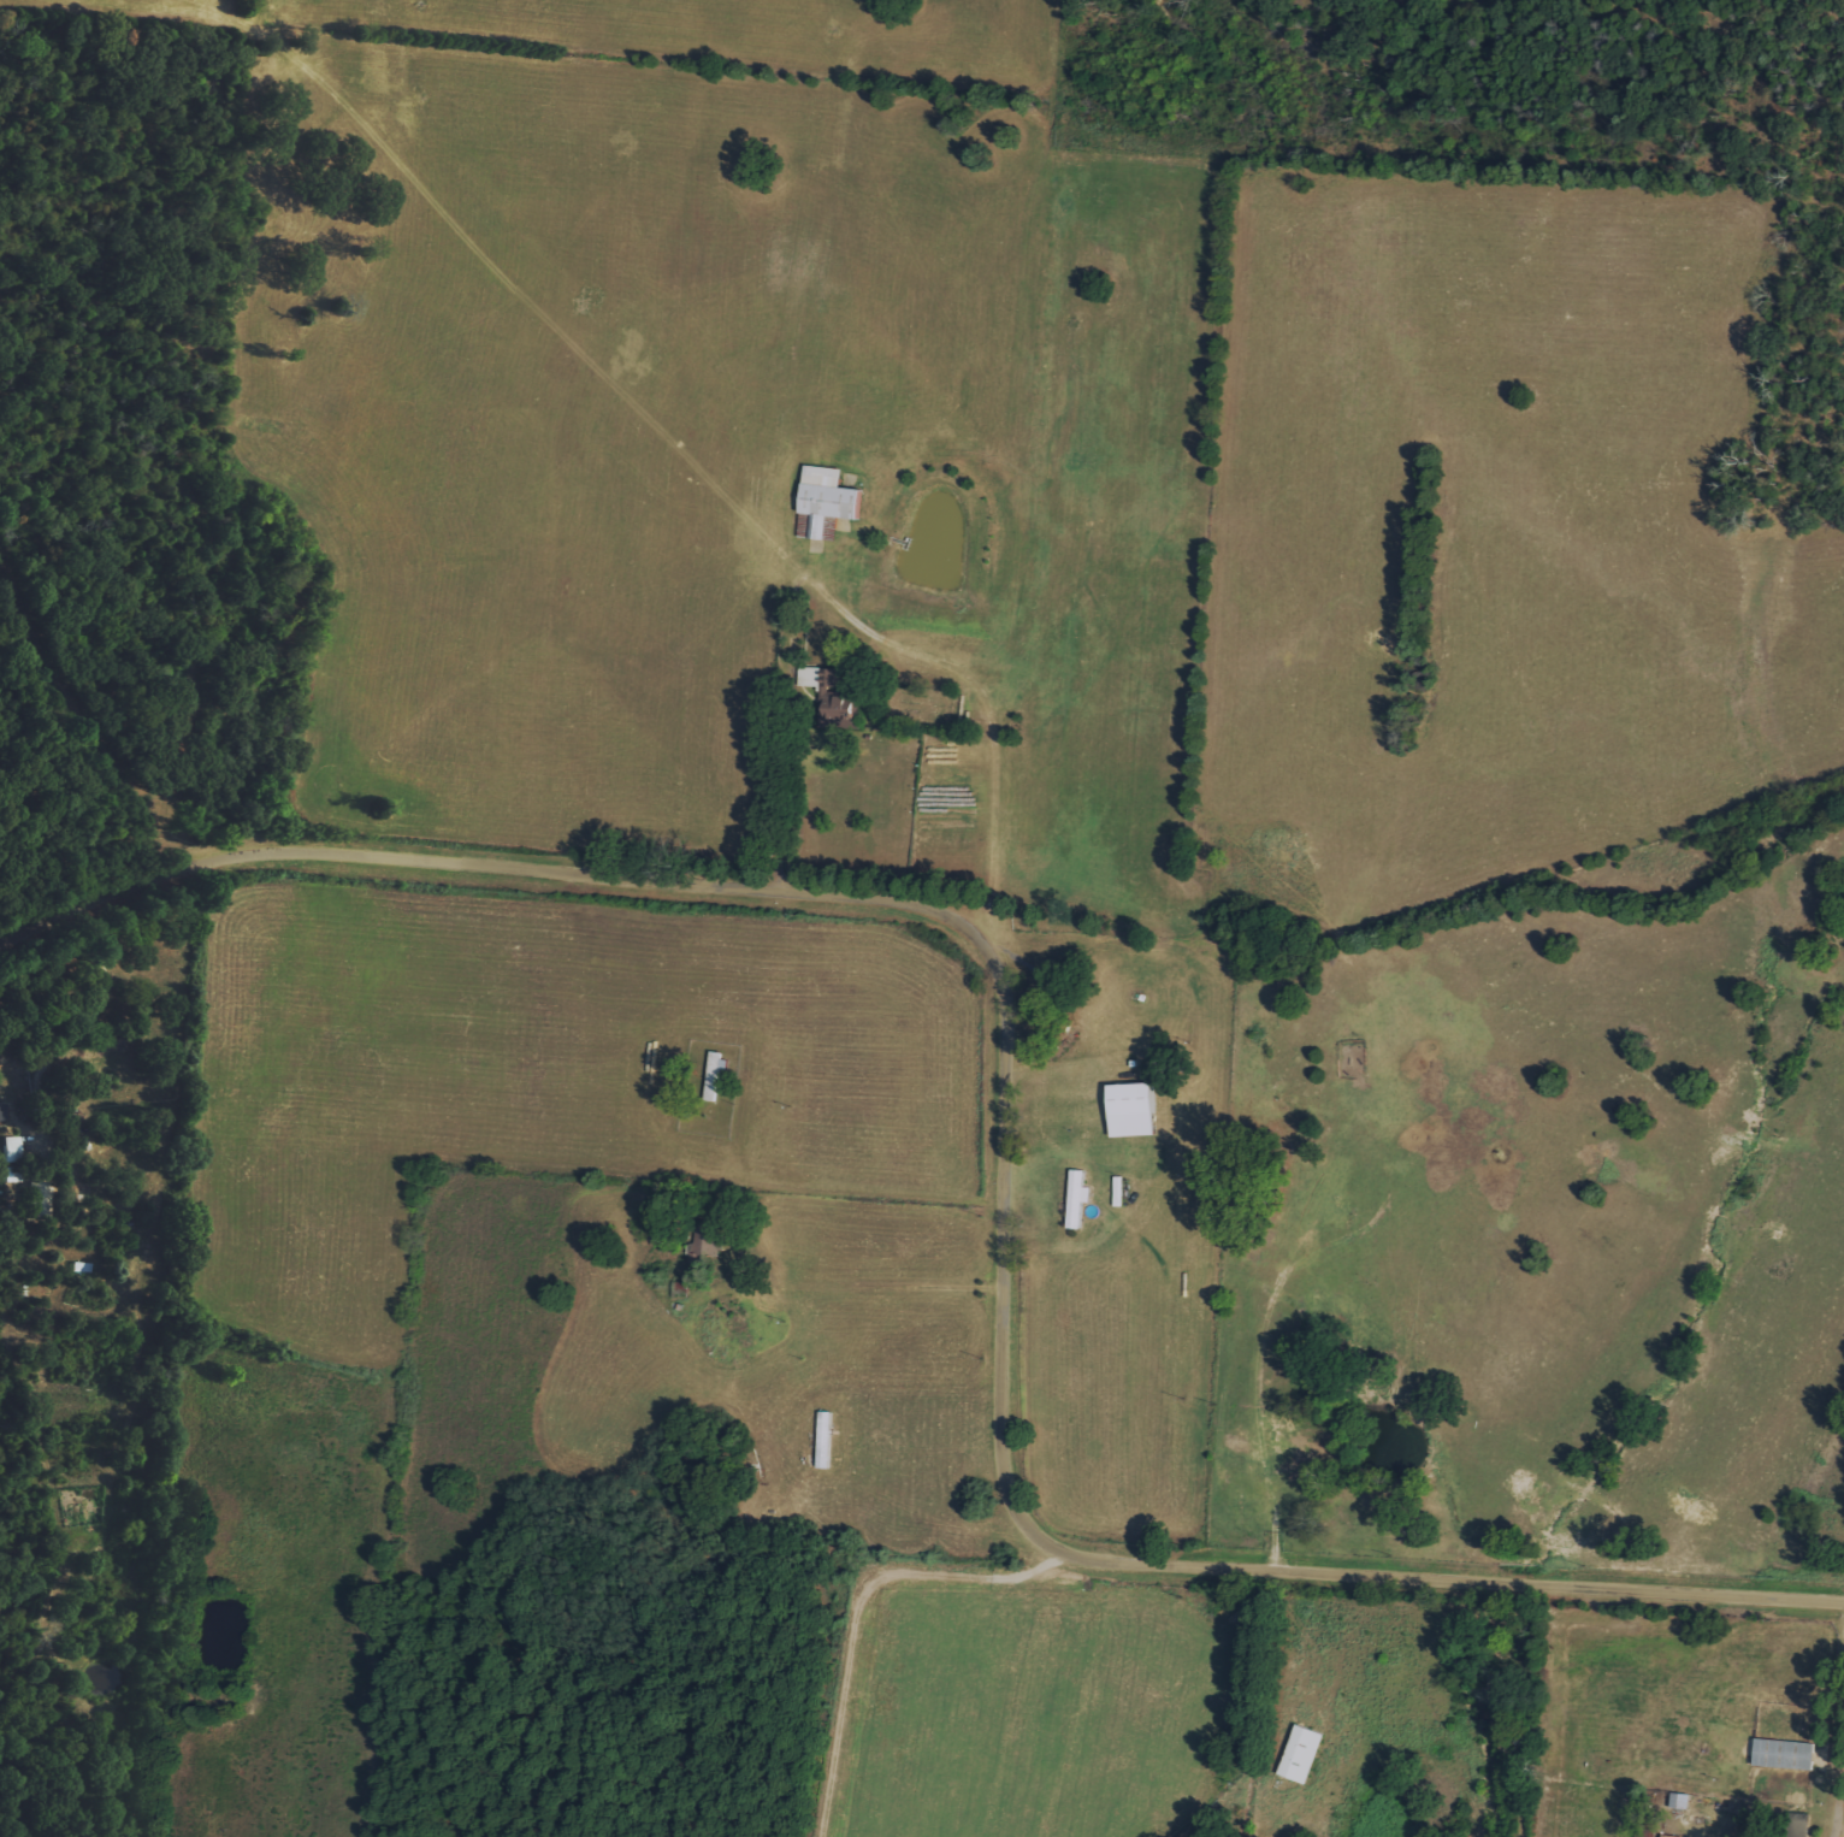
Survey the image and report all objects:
building: (825, 500)
building: (822, 684)
road: (106, 996)
building: (1129, 1110)
road: (1003, 1147)
building: (10, 1148)
building: (1075, 1198)
building: (35, 1199)
building: (705, 1244)
building: (1299, 1754)
building: (1783, 1754)
road: (1840, 1760)
building: (1678, 1801)
building: (1667, 1836)

